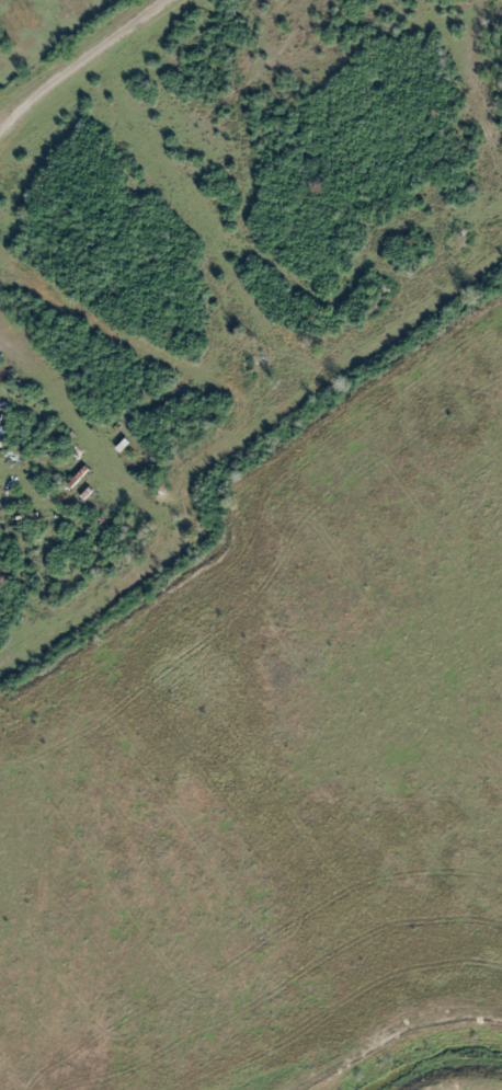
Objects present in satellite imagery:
road: (83, 60)
road: (384, 1033)

